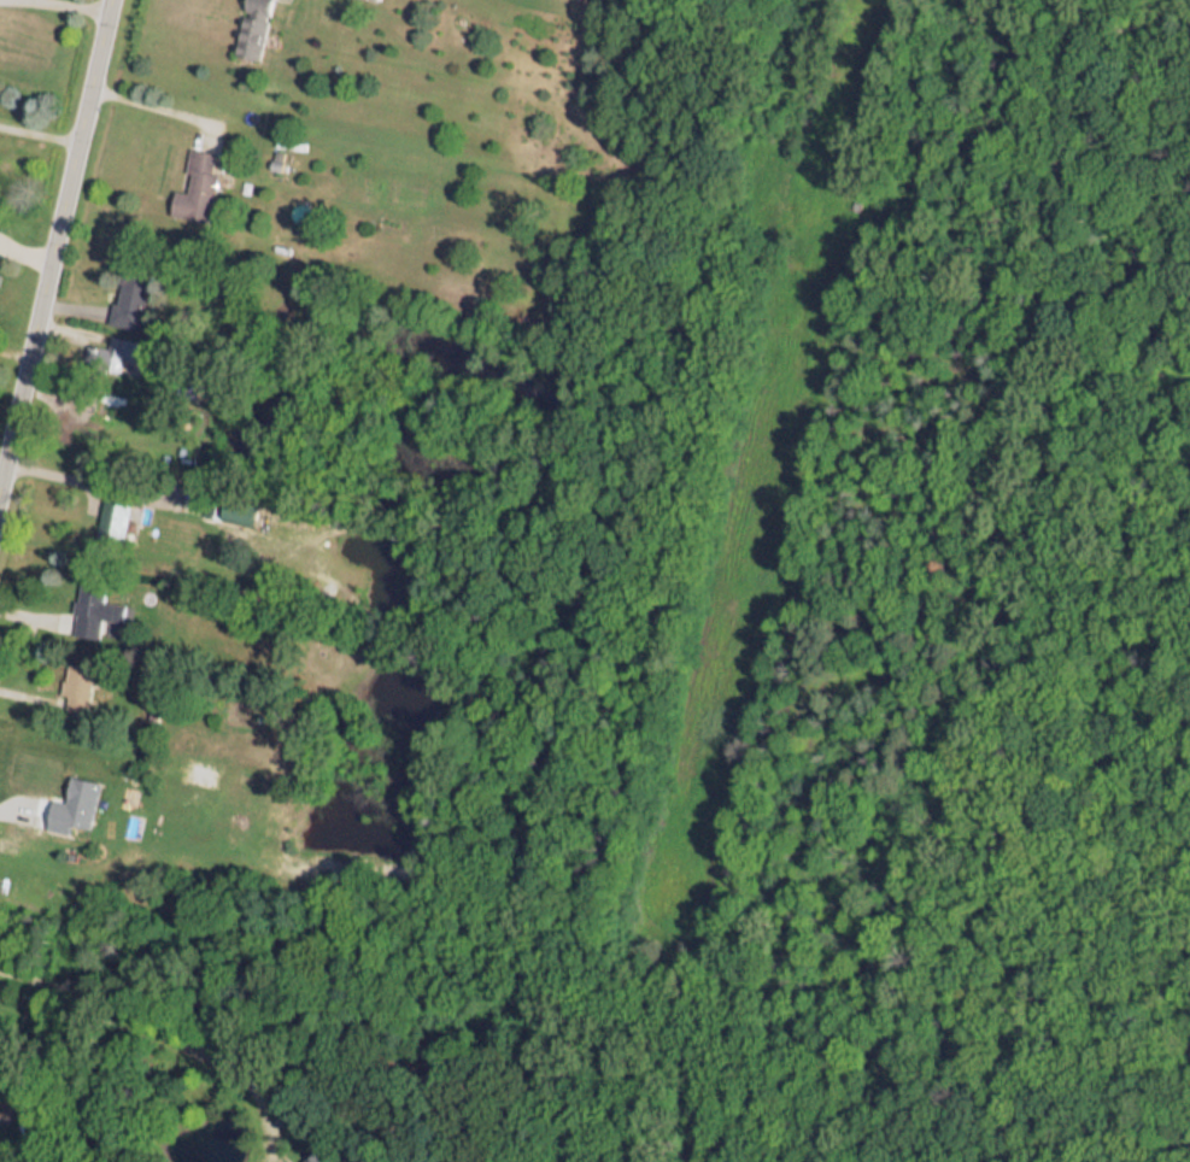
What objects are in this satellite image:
building: (256, 5)
road: (63, 6)
road: (39, 133)
building: (195, 177)
road: (54, 237)
road: (140, 1025)

